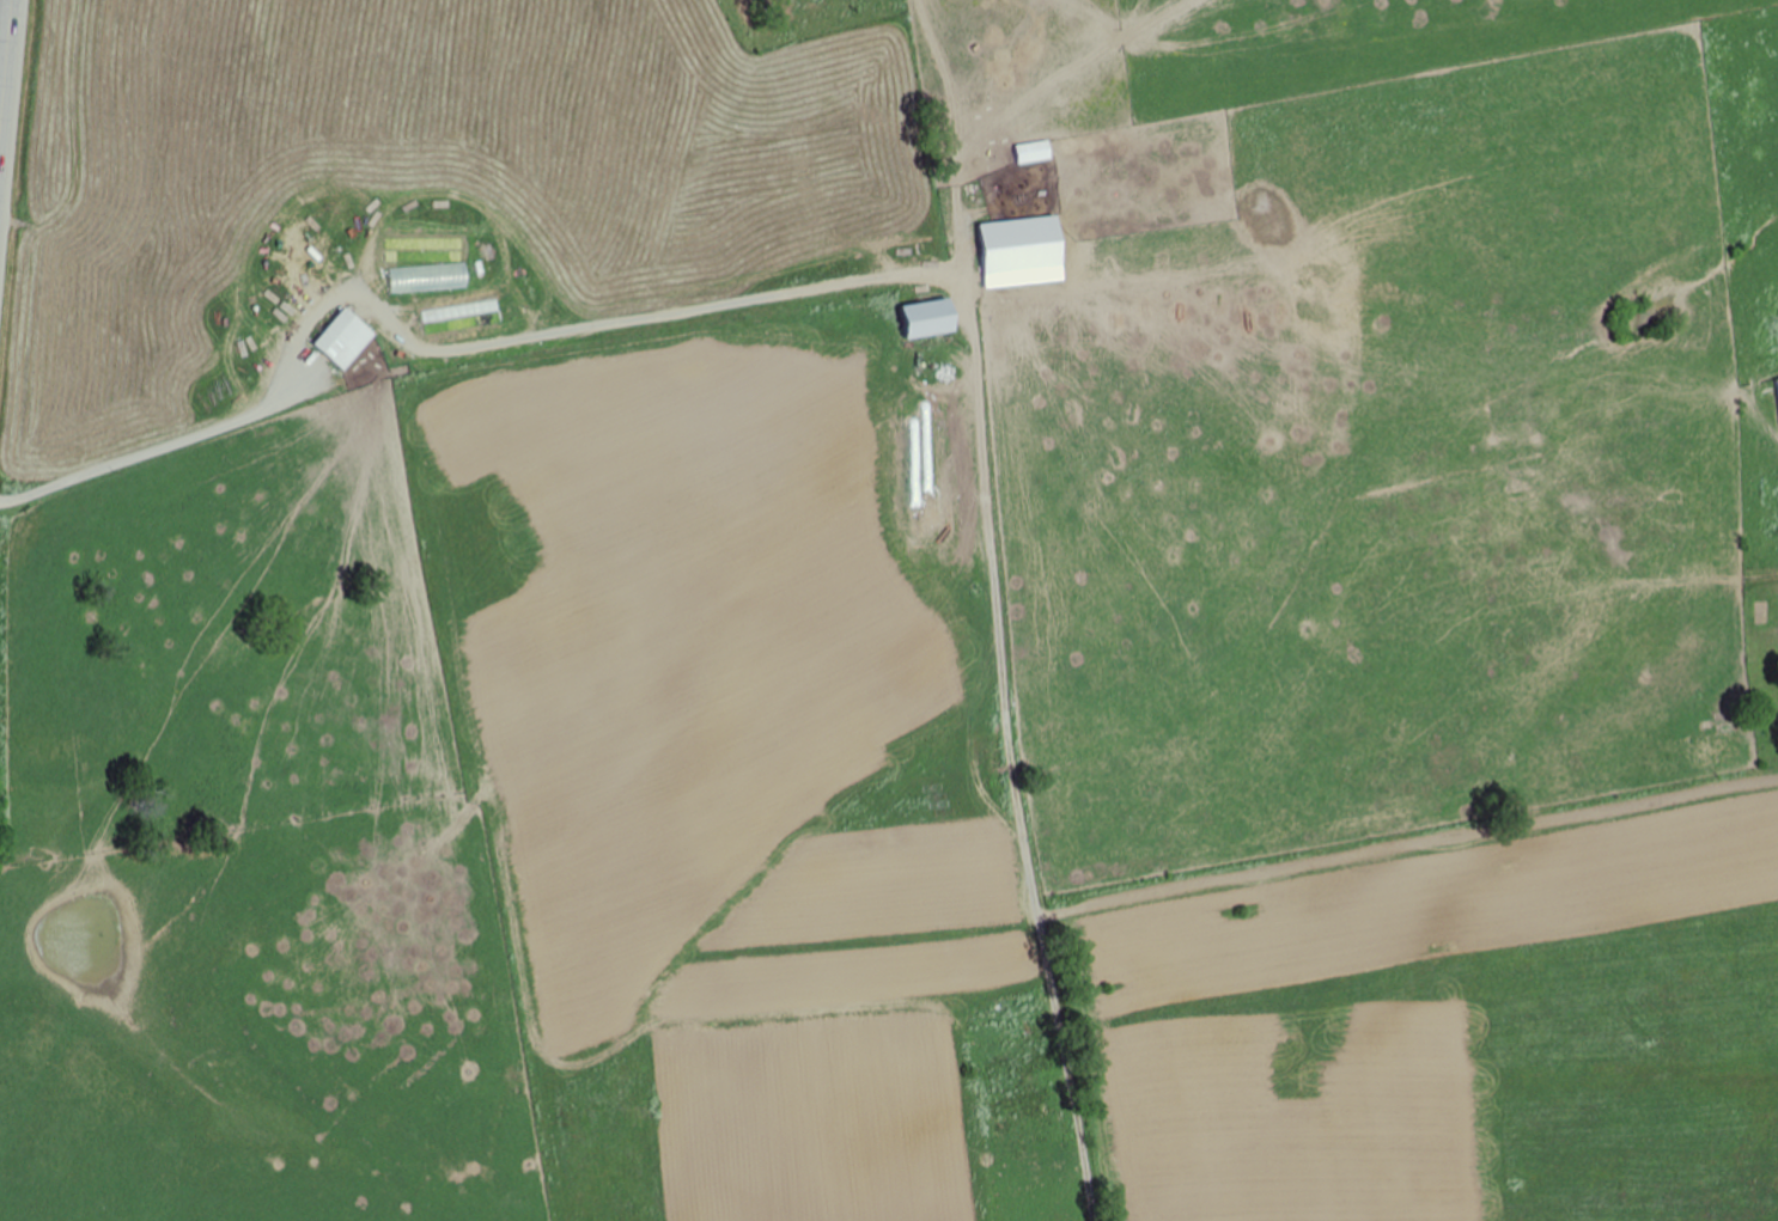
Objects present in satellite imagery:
building: (1192, 17)
road: (5, 56)
building: (1037, 152)
building: (1021, 234)
building: (932, 318)
building: (346, 338)
road: (1052, 610)

